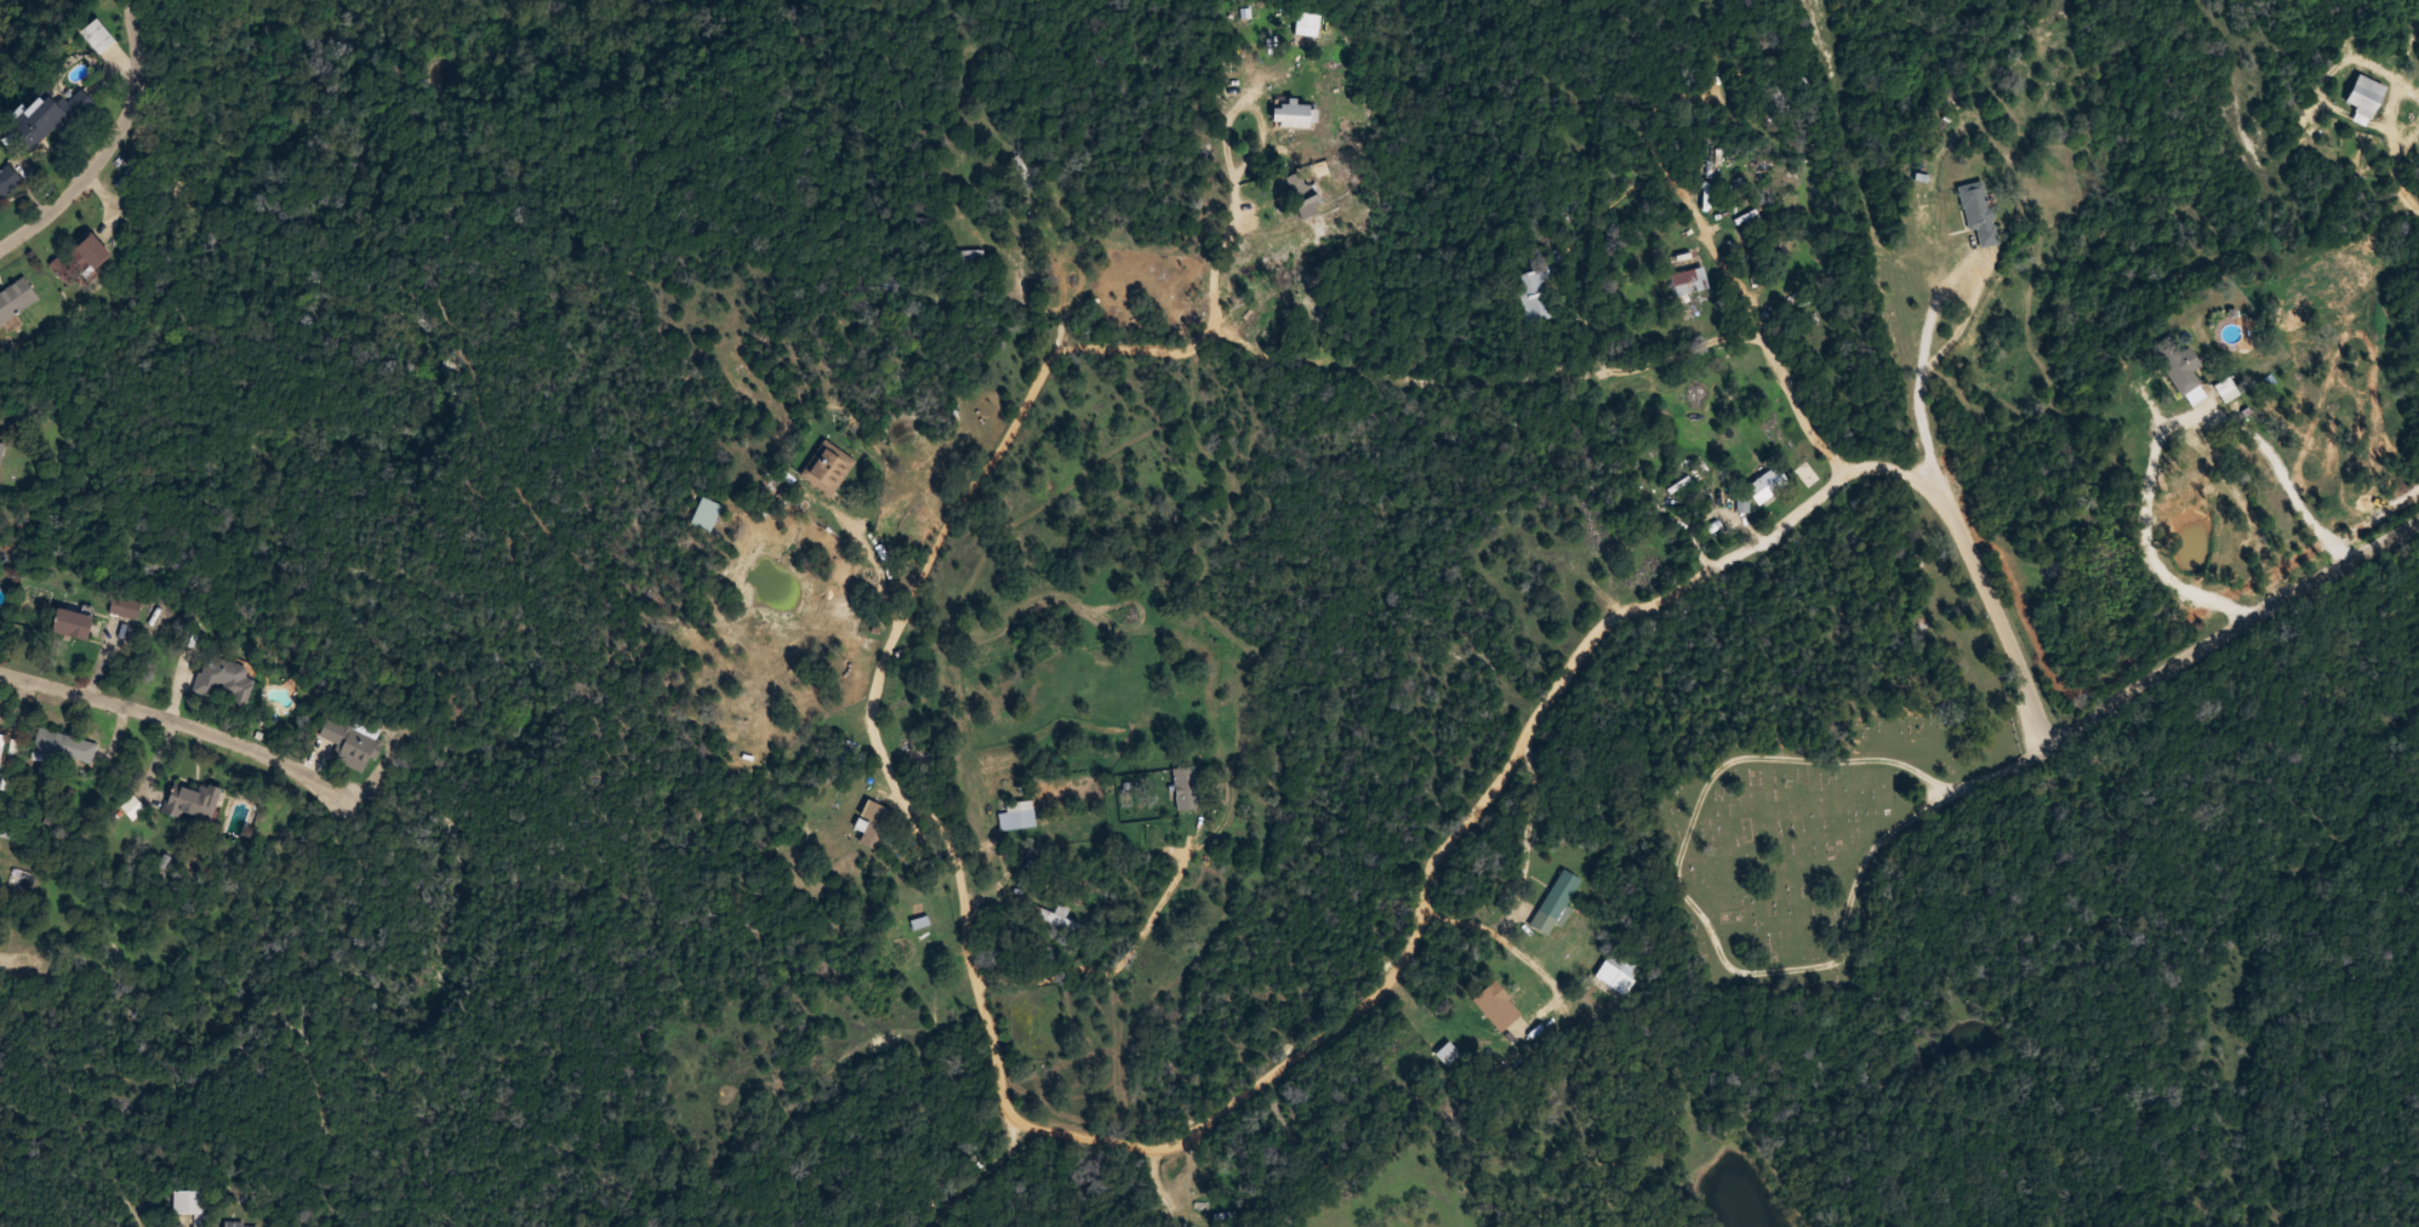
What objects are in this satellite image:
building: (1308, 28)
building: (98, 35)
building: (2364, 98)
building: (1295, 114)
building: (50, 119)
road: (104, 142)
building: (1021, 172)
building: (1776, 175)
building: (8, 181)
building: (1303, 194)
building: (1978, 210)
road: (1314, 227)
building: (972, 256)
building: (80, 259)
building: (1688, 281)
road: (1424, 290)
building: (1536, 295)
road: (1148, 296)
building: (16, 299)
road: (1907, 353)
building: (2179, 367)
road: (1451, 377)
building: (0, 450)
building: (827, 467)
building: (1765, 486)
building: (706, 514)
building: (2056, 569)
building: (125, 607)
building: (72, 623)
building: (223, 679)
road: (903, 703)
road: (178, 708)
road: (2111, 710)
building: (1, 743)
road: (896, 743)
building: (349, 746)
building: (62, 748)
park: (1827, 780)
building: (1187, 788)
building: (193, 803)
building: (1017, 816)
building: (874, 824)
road: (905, 843)
building: (1557, 901)
road: (16, 959)
building: (1616, 974)
building: (1497, 1006)
road: (1345, 1021)
building: (1448, 1054)
building: (189, 1204)
building: (1217, 1214)
building: (240, 1223)

